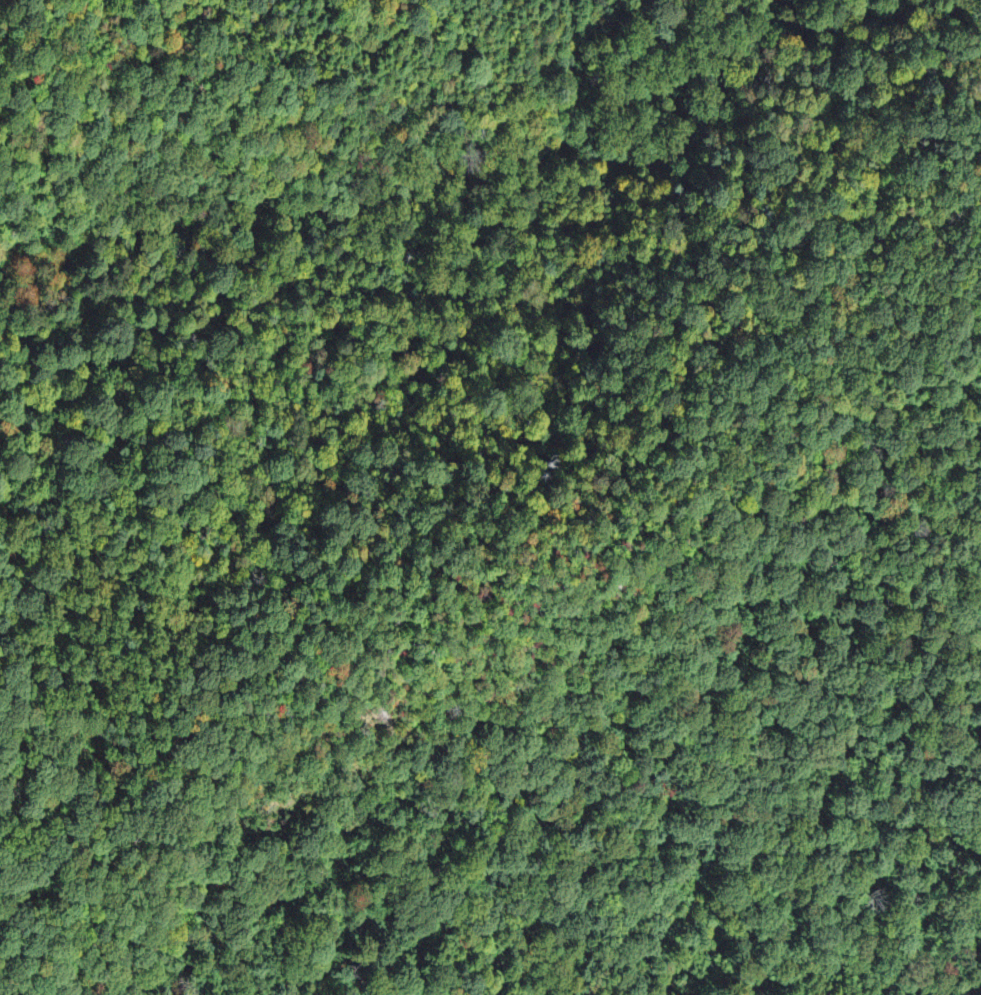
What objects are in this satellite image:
road: (871, 11)
road: (657, 484)

